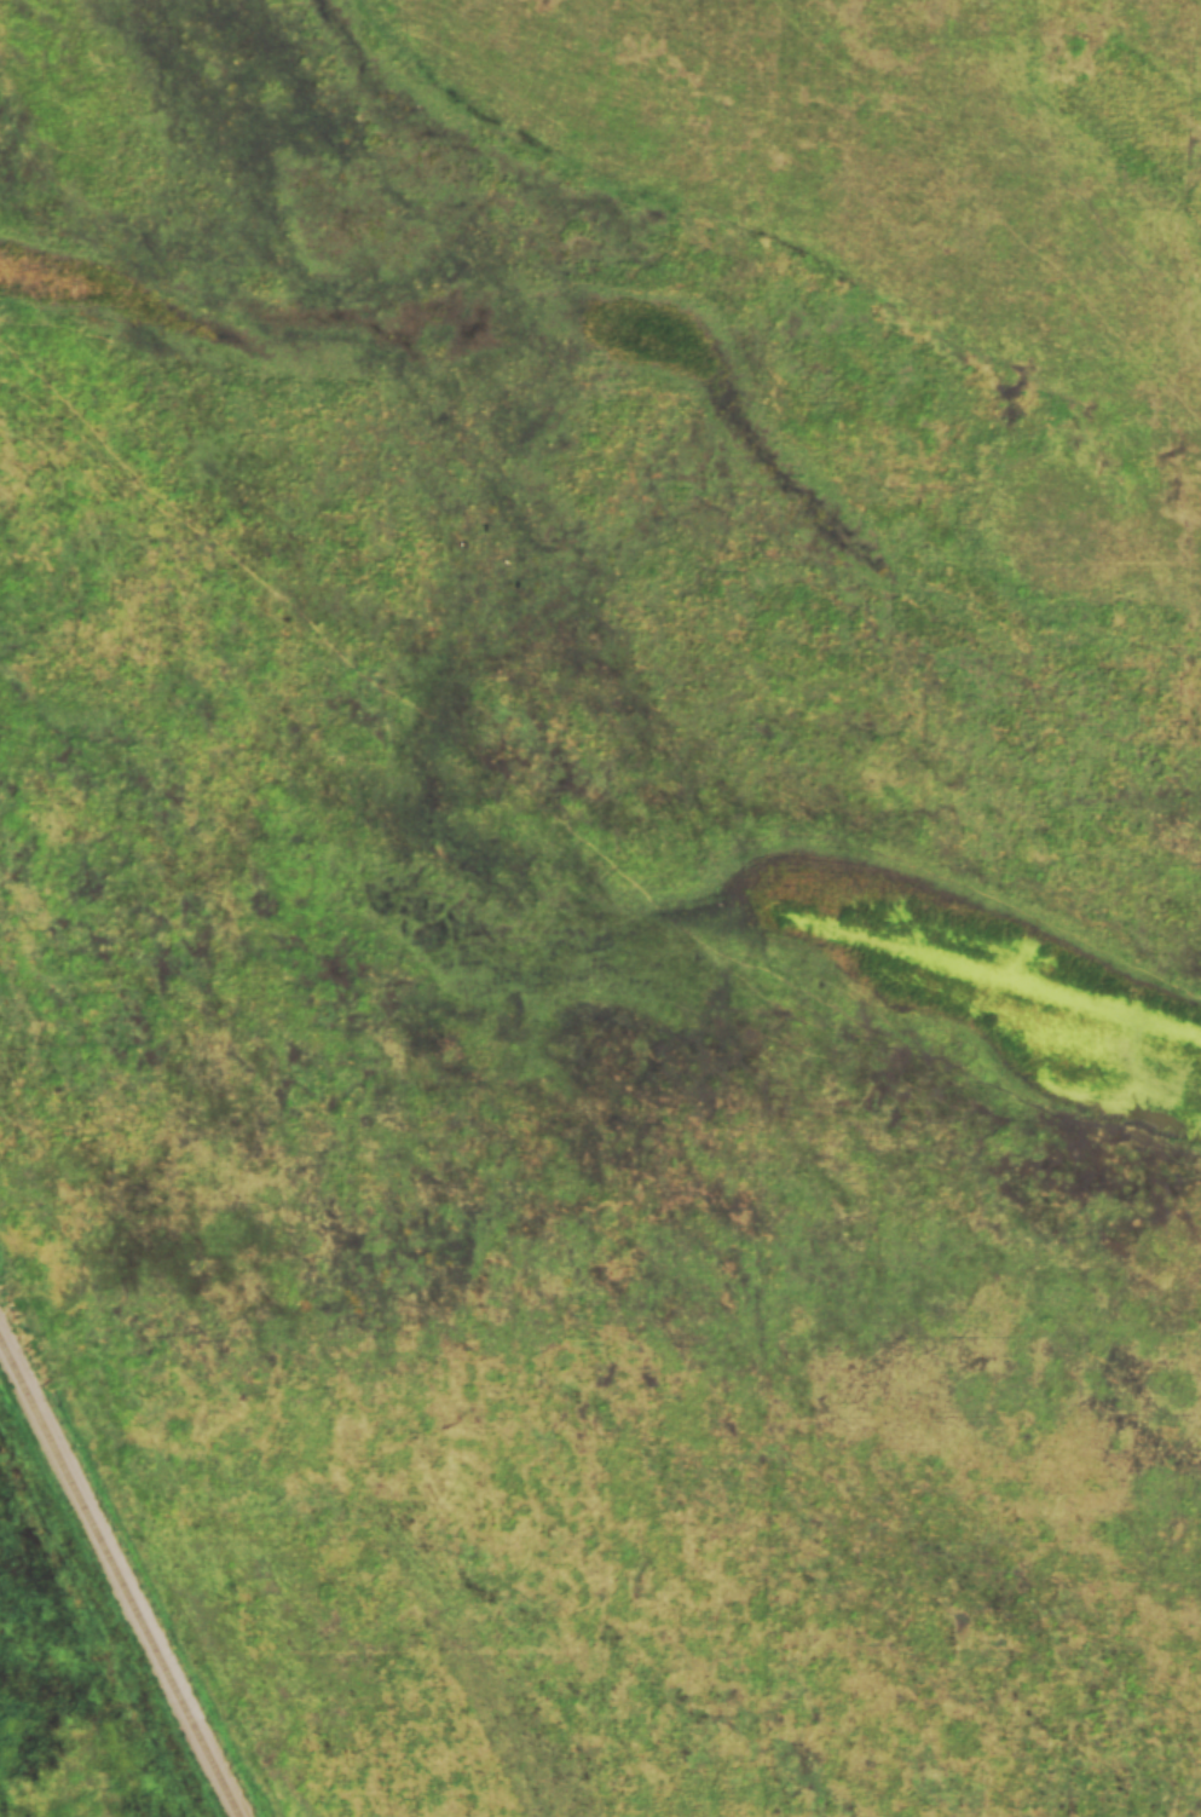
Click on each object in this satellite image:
railway: (119, 1577)

